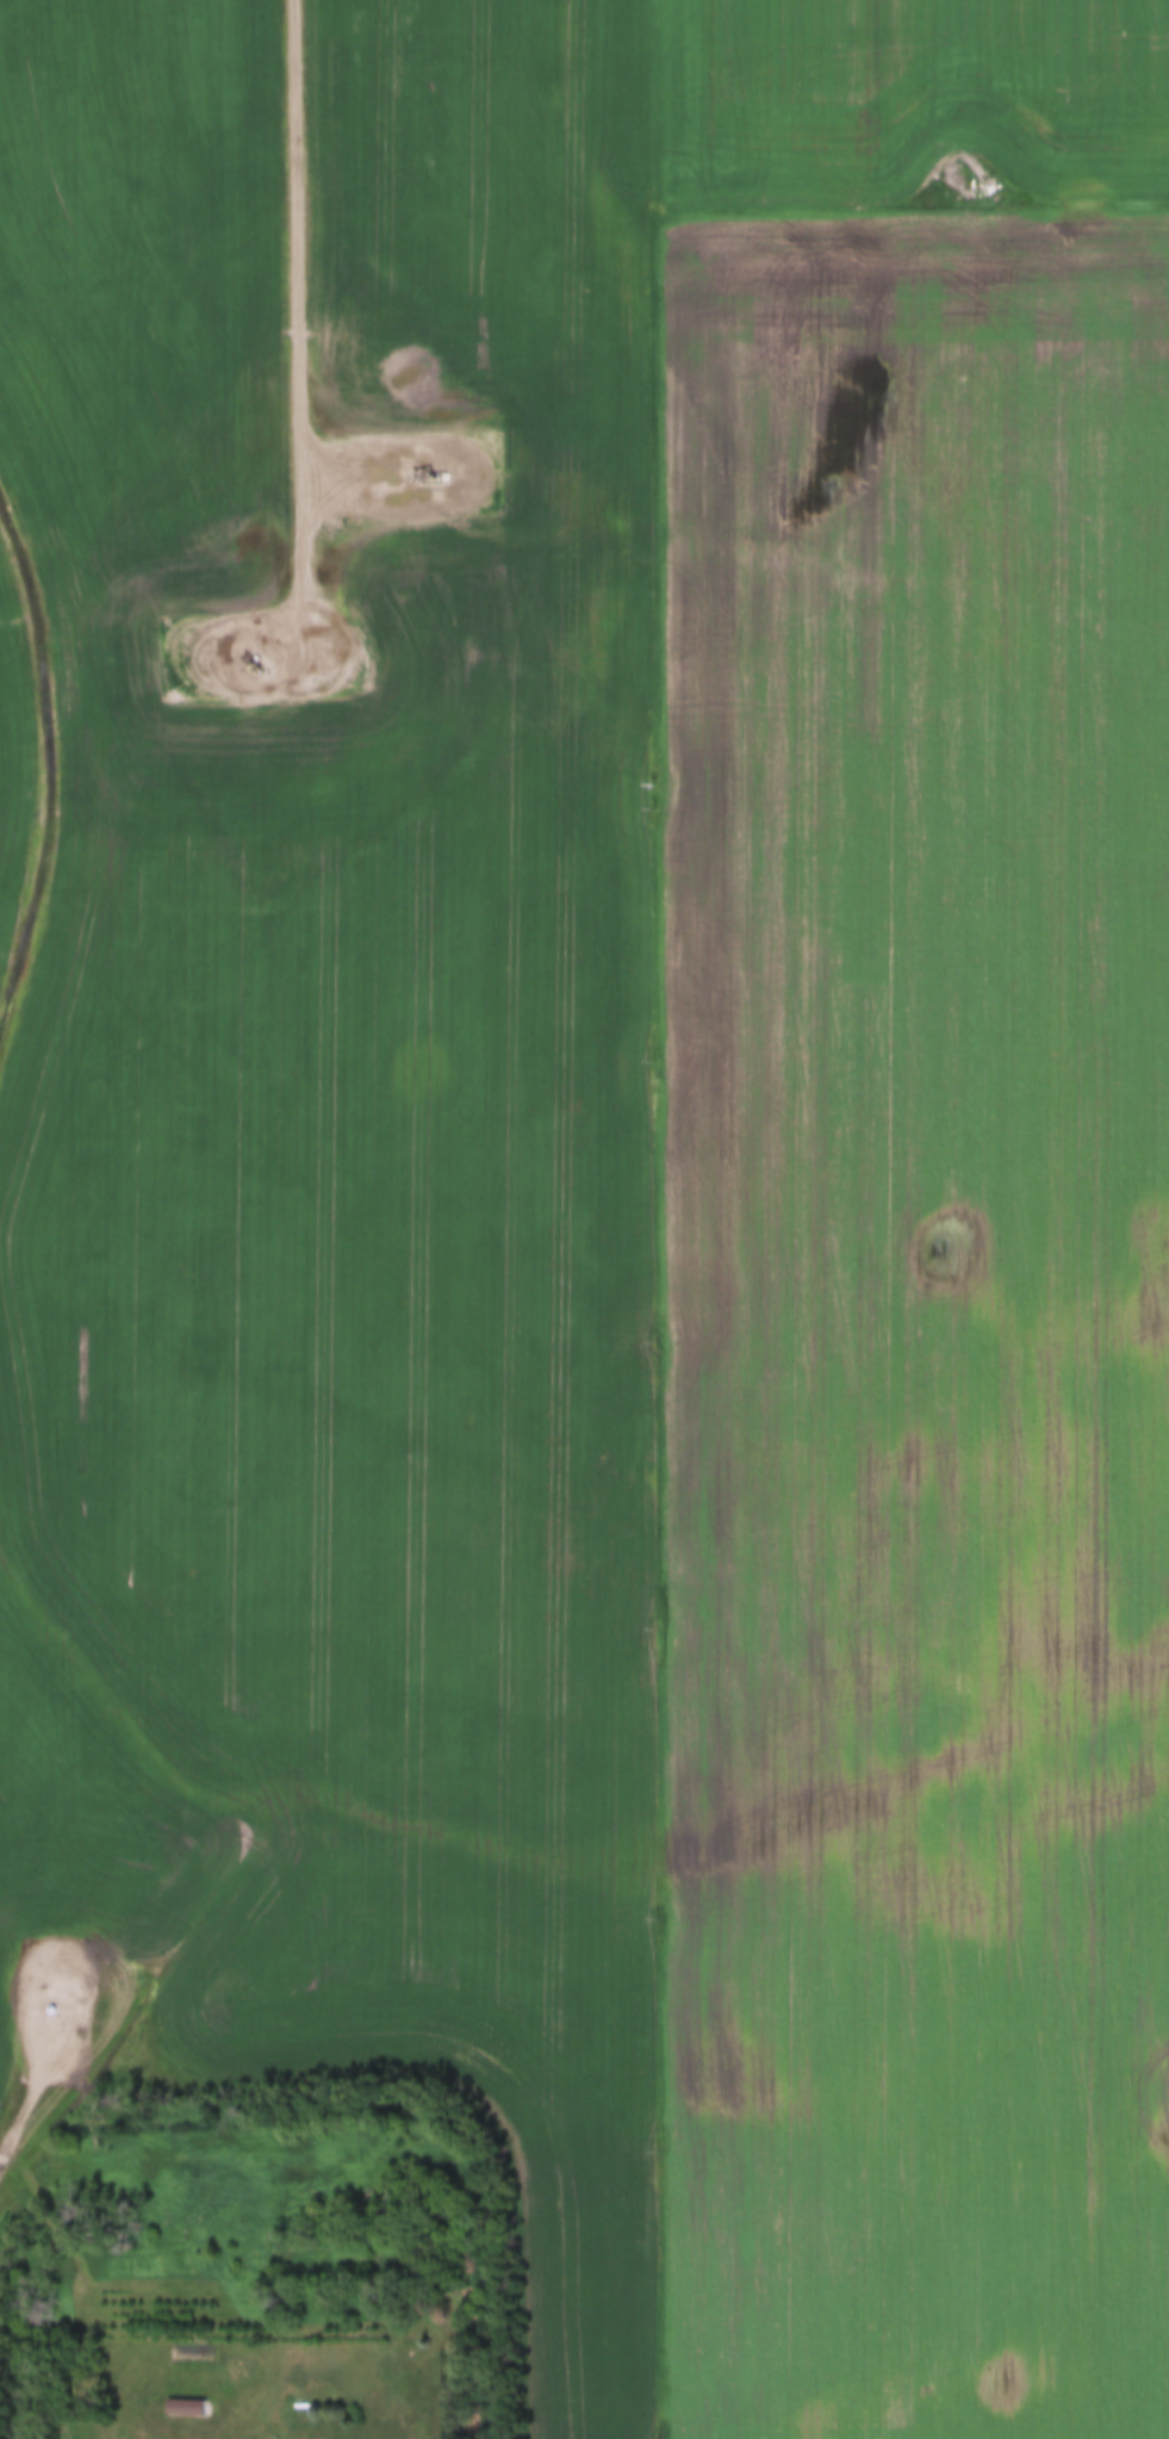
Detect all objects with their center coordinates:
road: (23, 2104)
building: (184, 2406)
building: (291, 2434)

